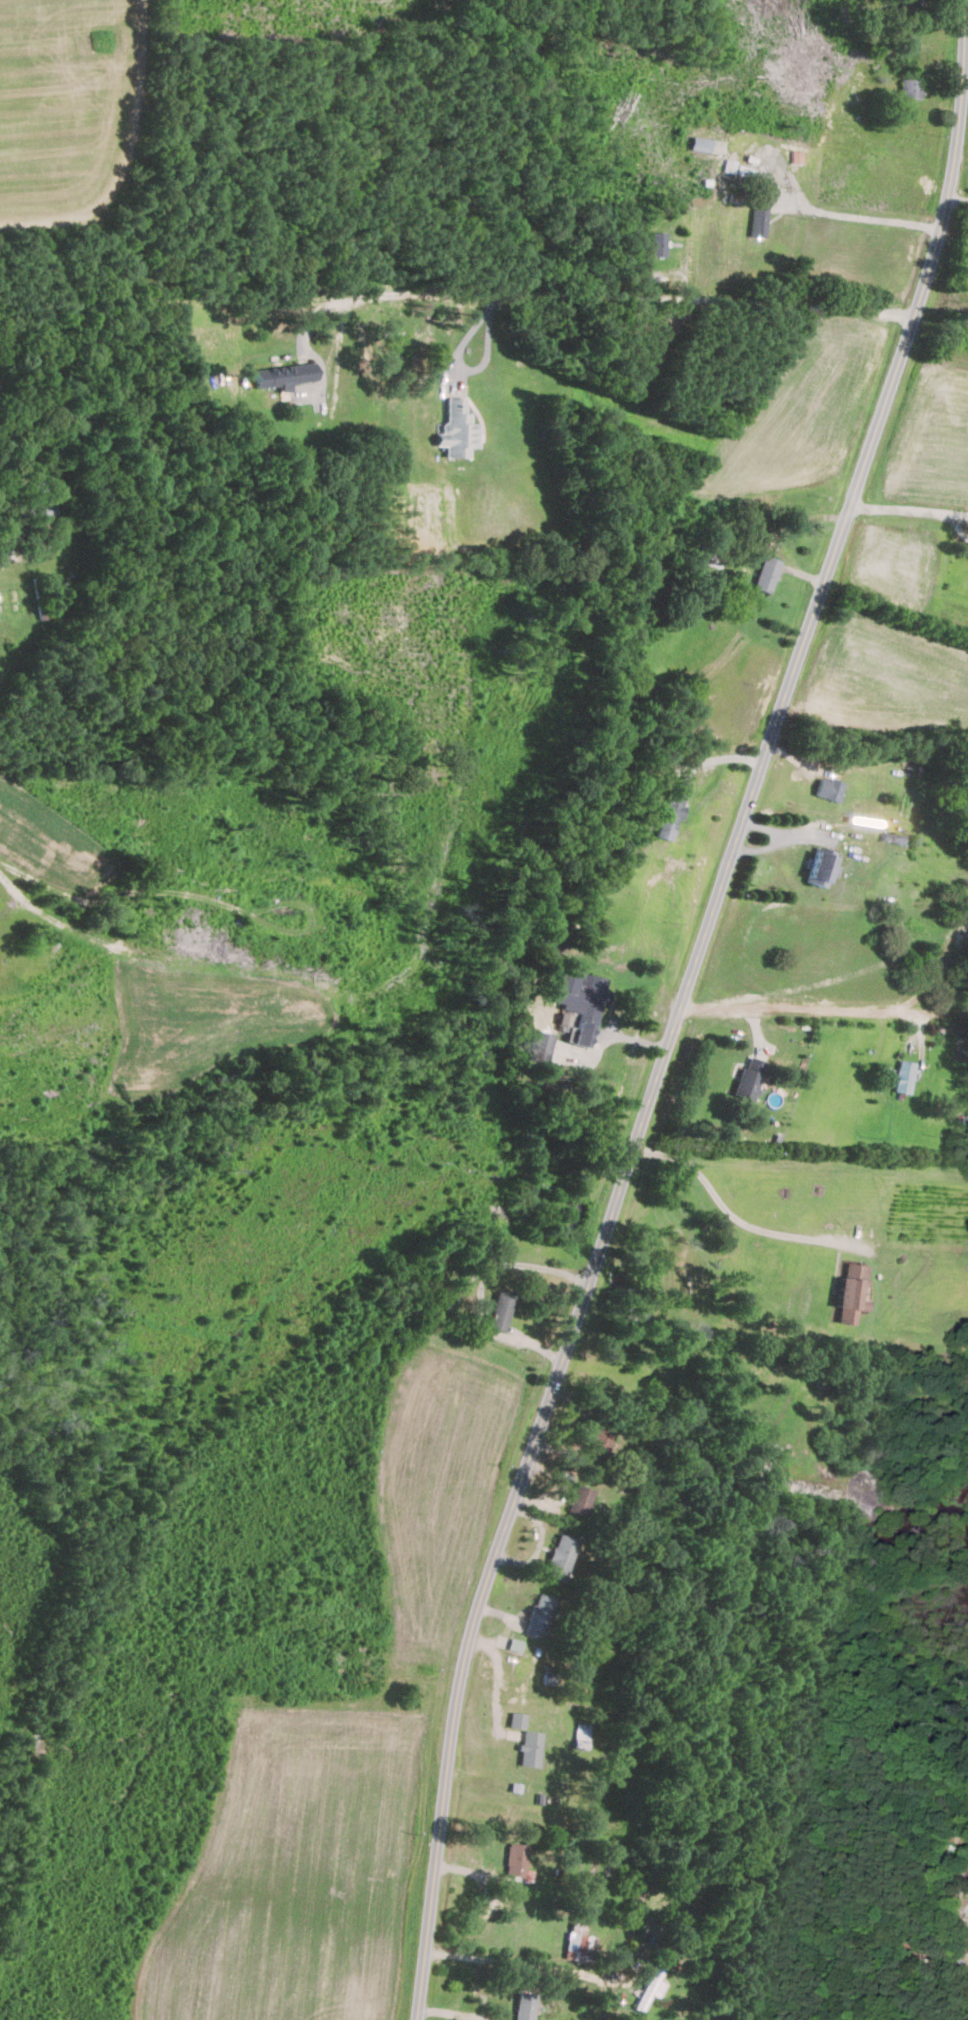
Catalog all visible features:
building: (903, 5)
building: (909, 87)
building: (796, 155)
road: (958, 198)
road: (864, 216)
building: (759, 219)
building: (658, 243)
road: (528, 295)
road: (784, 301)
road: (310, 354)
road: (459, 361)
building: (286, 375)
building: (456, 430)
road: (911, 513)
building: (766, 574)
building: (828, 789)
building: (671, 808)
building: (821, 870)
road: (942, 965)
building: (580, 998)
road: (795, 1004)
road: (683, 1006)
road: (938, 1011)
building: (563, 1018)
building: (903, 1076)
building: (747, 1083)
road: (733, 1216)
building: (852, 1292)
building: (500, 1309)
building: (599, 1441)
building: (579, 1499)
building: (560, 1557)
building: (539, 1615)
building: (514, 1644)
building: (516, 1720)
building: (529, 1748)
building: (515, 1859)
building: (579, 1946)
road: (520, 1965)
building: (650, 1988)
building: (525, 2006)

